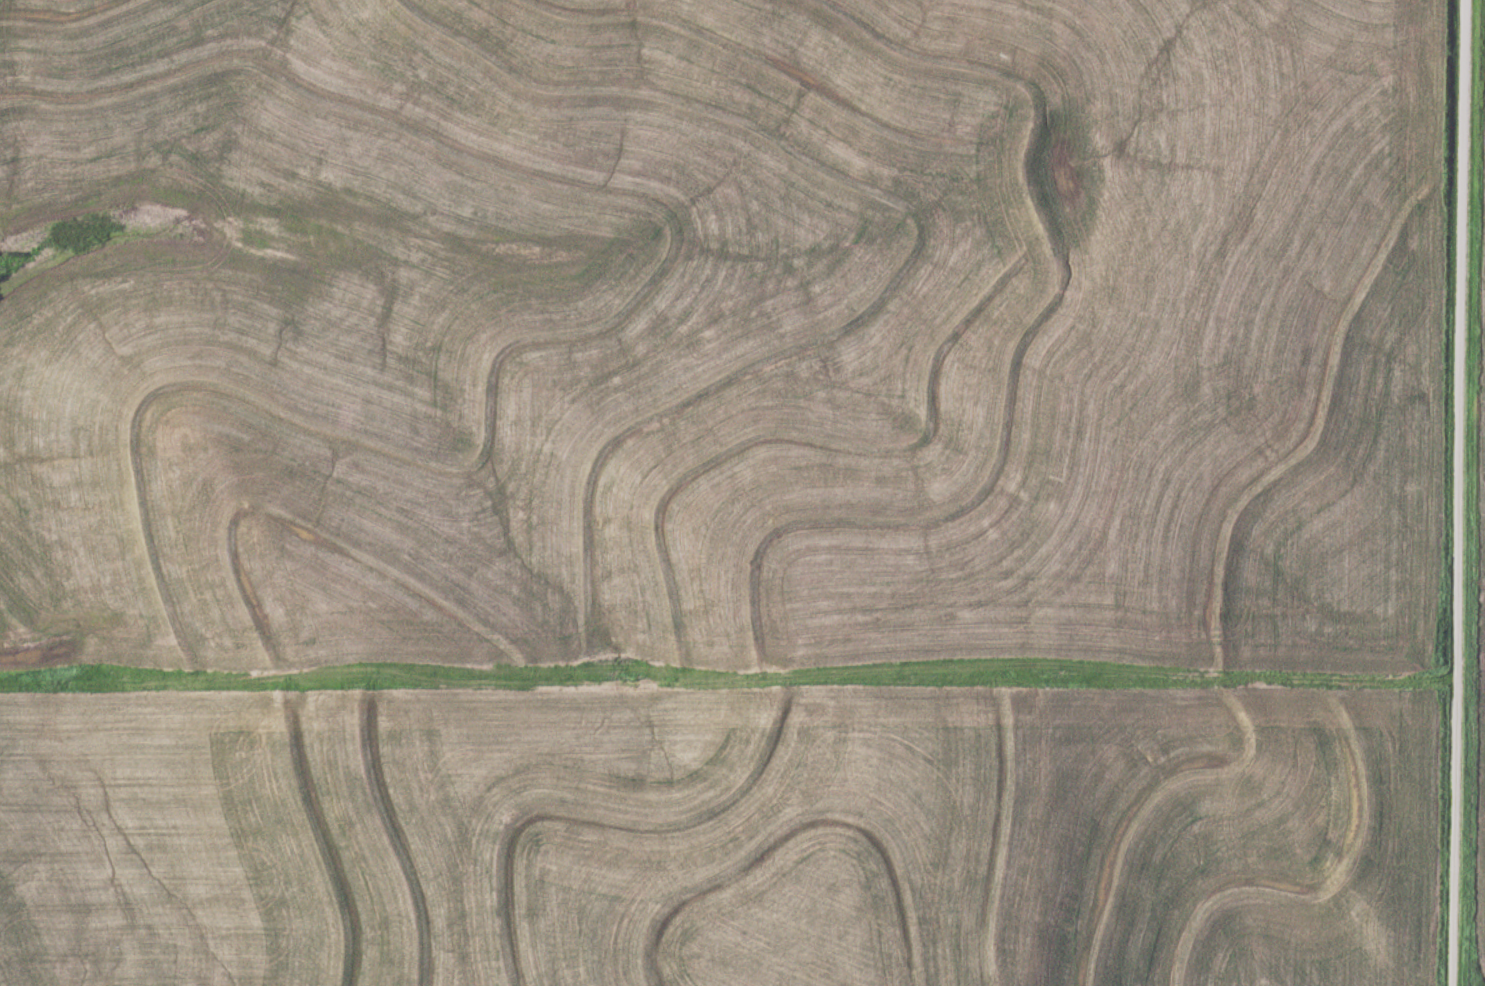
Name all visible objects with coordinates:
road: (1458, 493)

